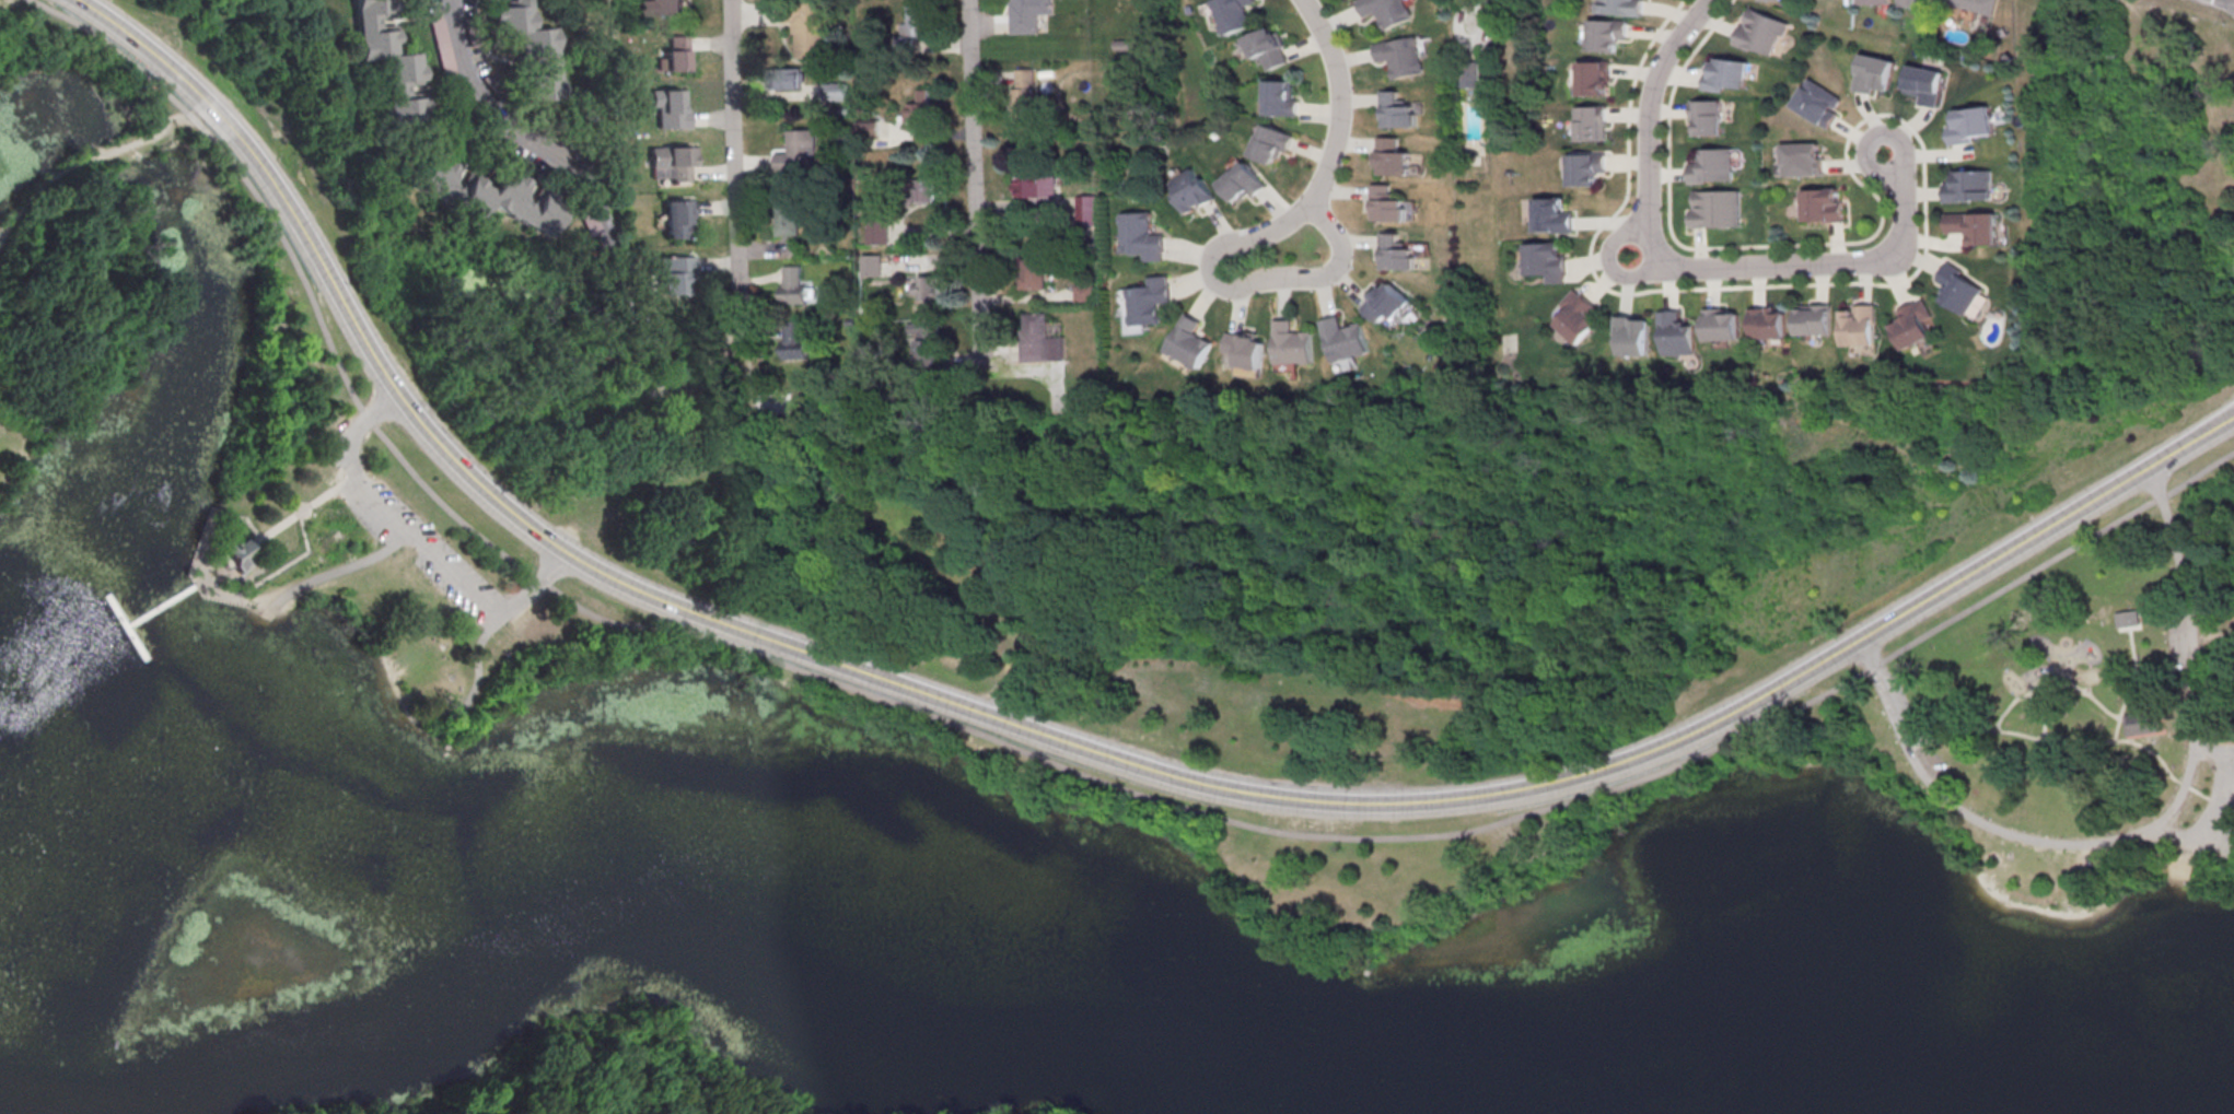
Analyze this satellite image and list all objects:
building: (1873, 1)
building: (1918, 2)
building: (1975, 5)
building: (667, 7)
building: (1620, 7)
building: (1388, 11)
building: (1028, 14)
building: (1234, 14)
building: (917, 21)
building: (808, 27)
building: (1760, 32)
building: (1606, 34)
building: (530, 47)
building: (1270, 47)
building: (673, 56)
building: (1400, 57)
park: (75, 59)
building: (389, 61)
building: (1873, 72)
building: (1470, 74)
building: (1725, 74)
building: (1594, 78)
building: (786, 79)
building: (1923, 83)
building: (837, 92)
building: (1023, 92)
building: (1283, 98)
road: (1341, 102)
building: (1818, 102)
building: (673, 110)
building: (919, 110)
building: (1397, 112)
building: (1707, 117)
building: (1591, 122)
building: (1970, 125)
building: (870, 130)
road: (515, 131)
building: (1272, 143)
road: (970, 144)
building: (799, 150)
building: (1394, 157)
building: (1803, 159)
building: (673, 161)
road: (82, 164)
building: (1712, 166)
building: (1584, 168)
building: (435, 176)
road: (735, 178)
building: (1243, 183)
building: (1034, 186)
building: (1970, 186)
building: (924, 190)
building: (1192, 191)
building: (511, 201)
building: (1388, 204)
building: (1823, 206)
building: (1717, 209)
building: (1087, 211)
building: (1552, 215)
building: (676, 218)
building: (788, 220)
building: (1974, 226)
building: (879, 234)
building: (1143, 236)
road: (1828, 244)
building: (1396, 254)
building: (1547, 260)
road: (1609, 263)
building: (872, 266)
road: (1690, 270)
road: (1594, 273)
building: (673, 274)
building: (1033, 274)
road: (1287, 277)
building: (792, 285)
building: (1960, 288)
building: (927, 292)
building: (1085, 294)
building: (1149, 302)
building: (1385, 302)
building: (1578, 316)
building: (1814, 319)
building: (1768, 323)
building: (1913, 324)
building: (1722, 325)
building: (1859, 325)
road: (976, 328)
building: (1633, 335)
building: (1677, 335)
building: (793, 339)
building: (1345, 339)
building: (1039, 340)
building: (1190, 343)
building: (1293, 345)
building: (1247, 349)
building: (927, 352)
park: (294, 445)
road: (831, 461)
road: (301, 509)
pier: (196, 536)
parking lot: (414, 539)
road: (417, 543)
building: (237, 554)
road: (334, 571)
road: (261, 581)
road: (247, 597)
road: (264, 599)
pier: (161, 611)
building: (2125, 617)
road: (2214, 628)
pier: (126, 633)
parking lot: (2180, 640)
road: (2132, 650)
road: (473, 671)
road: (2132, 679)
road: (1371, 682)
road: (2037, 689)
road: (2103, 707)
parking lot: (1901, 708)
building: (2141, 722)
park: (2064, 737)
road: (2130, 738)
road: (1059, 740)
road: (2081, 746)
road: (1026, 753)
parking lot: (1936, 772)
park: (1149, 789)
parking lot: (2216, 810)
road: (2223, 813)
road: (2142, 834)
road: (2221, 854)
river: (1137, 952)
road: (610, 1037)
road: (610, 1102)

